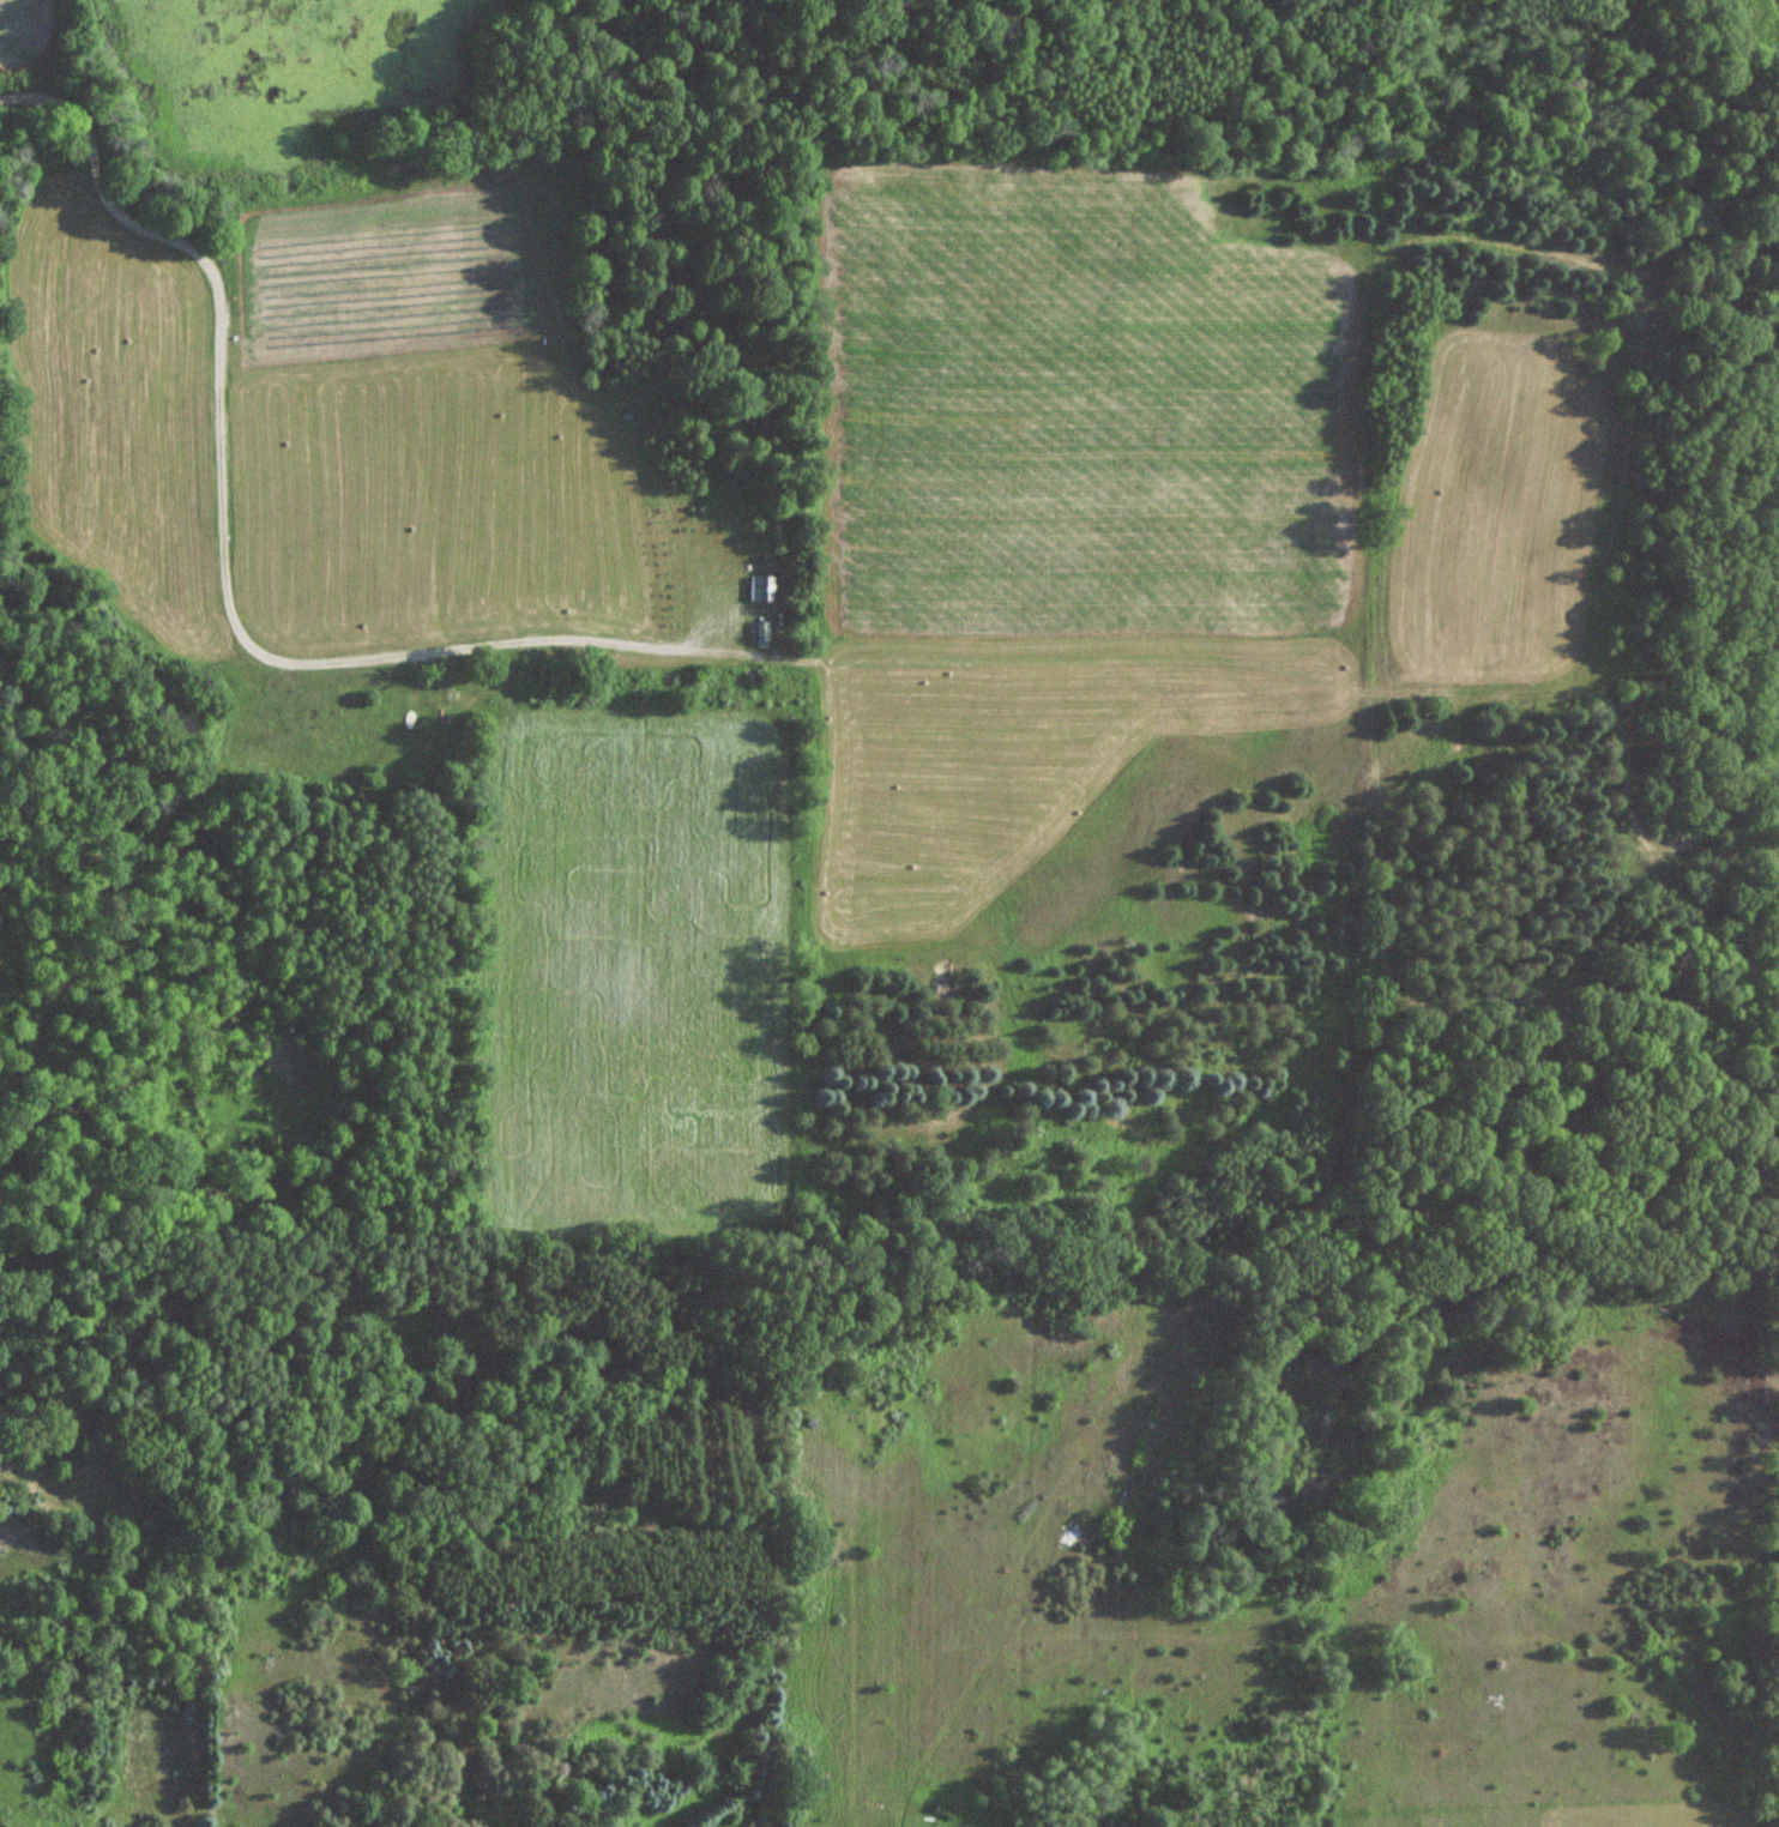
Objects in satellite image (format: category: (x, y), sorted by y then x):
road: (10, 92)
building: (765, 632)

